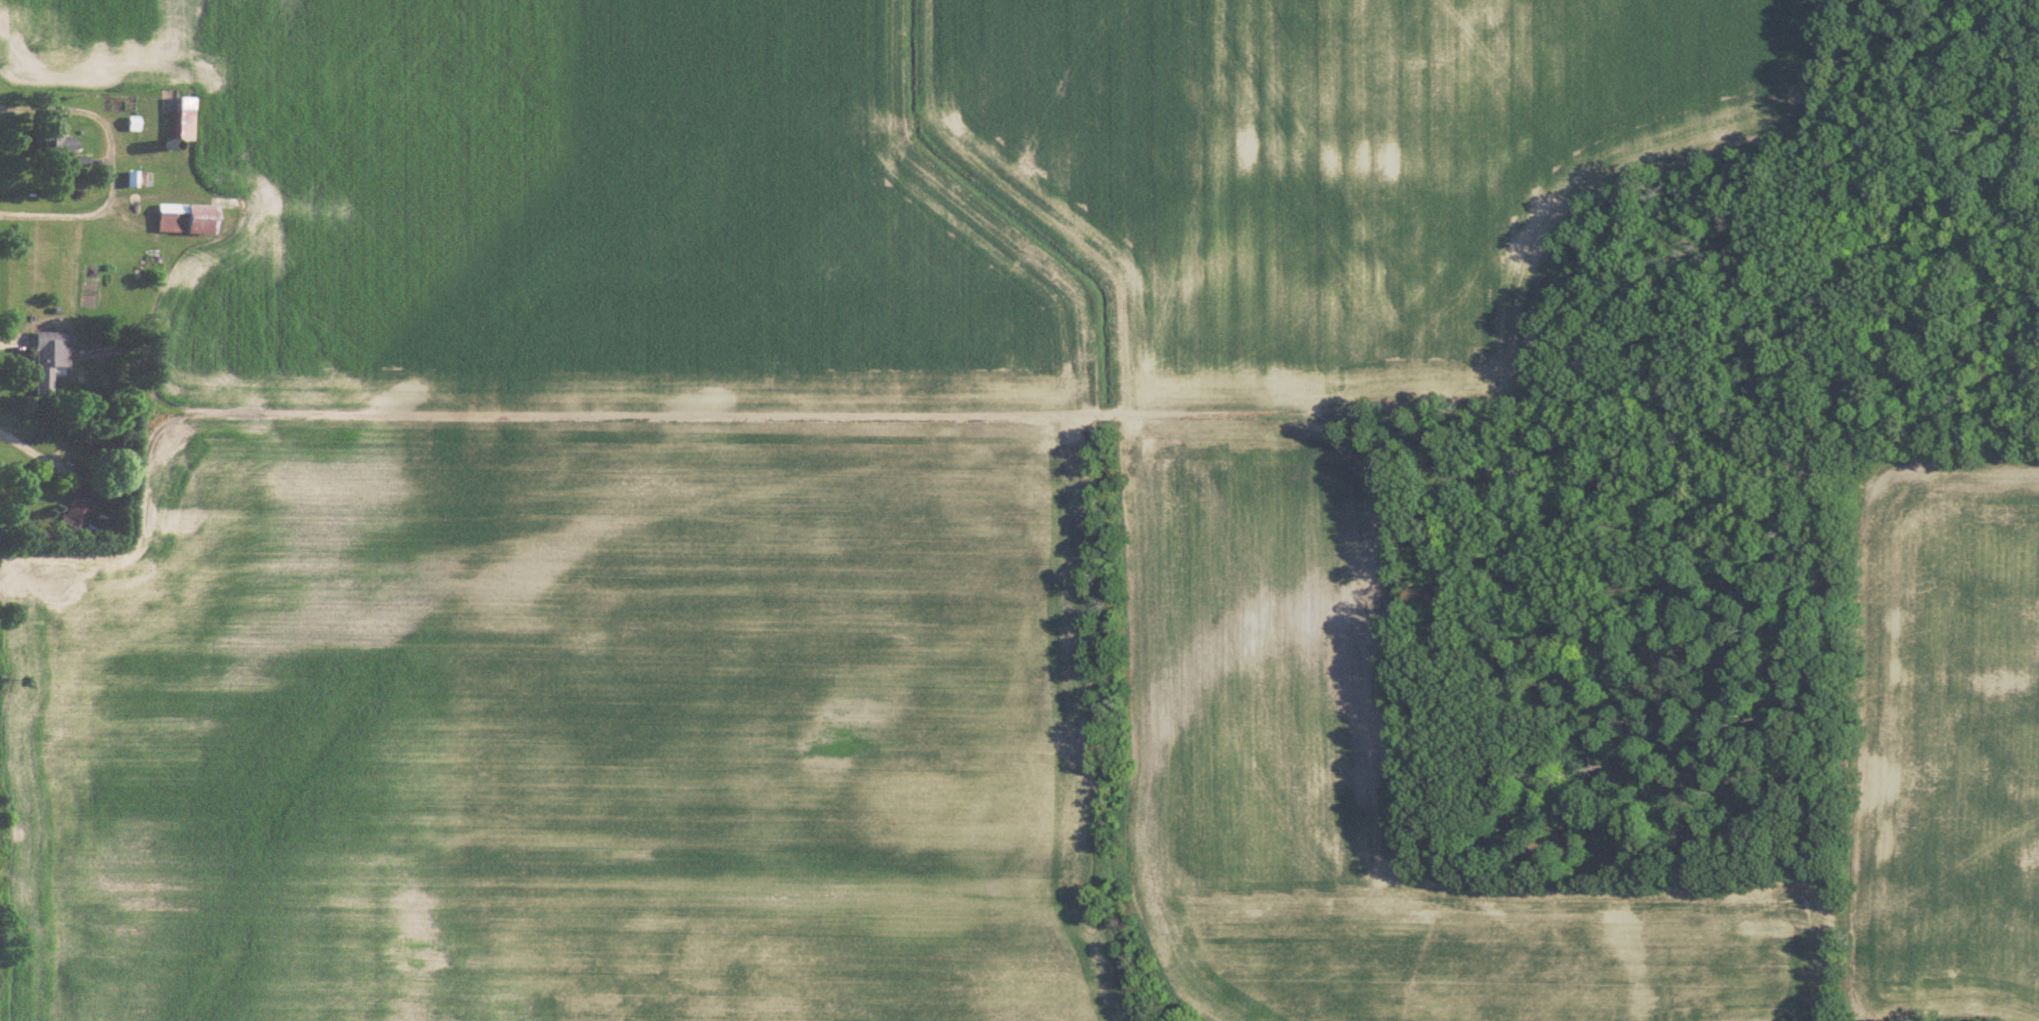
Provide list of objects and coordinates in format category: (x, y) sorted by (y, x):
building: (178, 117)
building: (50, 142)
road: (108, 163)
building: (188, 215)
building: (46, 356)
road: (37, 452)
building: (74, 510)

